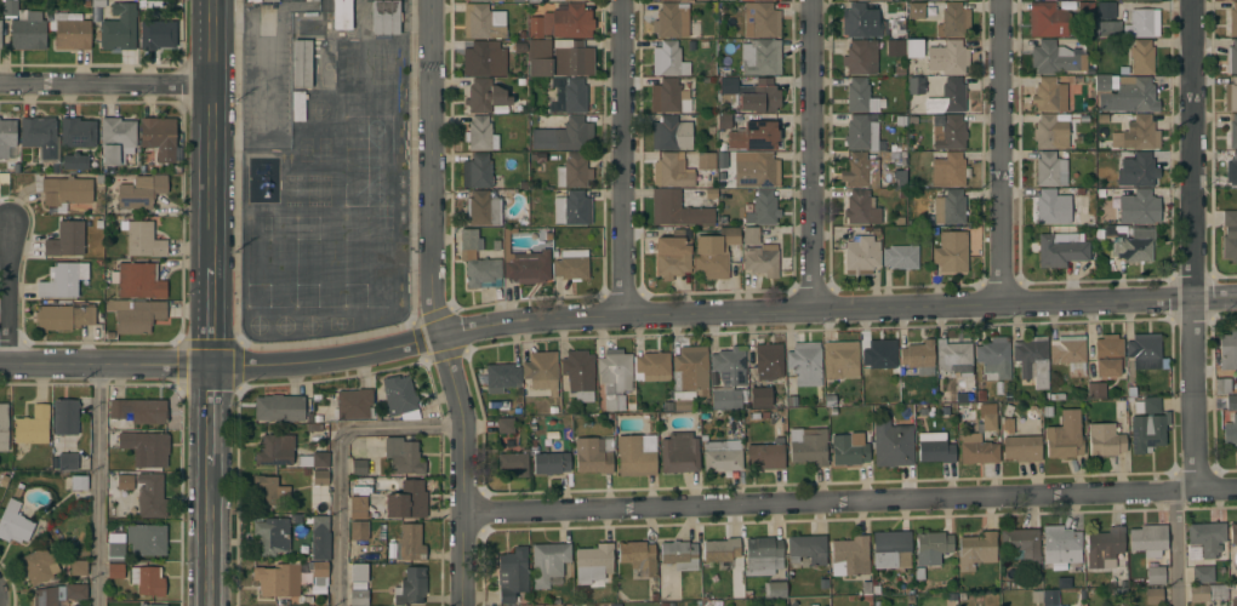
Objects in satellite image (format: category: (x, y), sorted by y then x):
building: (252, 0)
building: (269, 0)
building: (479, 0)
building: (571, 0)
building: (668, 0)
building: (746, 0)
building: (762, 0)
building: (856, 0)
building: (888, 0)
building: (911, 0)
building: (933, 0)
building: (1157, 0)
building: (534, 1)
building: (10, 7)
building: (916, 10)
building: (1105, 10)
building: (1084, 11)
building: (341, 15)
building: (386, 17)
building: (863, 19)
building: (1047, 19)
building: (1232, 19)
building: (760, 21)
building: (953, 21)
building: (483, 22)
building: (568, 22)
building: (667, 22)
building: (1141, 23)
building: (118, 28)
building: (1108, 29)
building: (899, 30)
building: (70, 32)
building: (28, 33)
building: (156, 35)
road: (269, 47)
building: (537, 48)
building: (895, 48)
building: (913, 48)
building: (1056, 56)
building: (760, 57)
building: (861, 57)
building: (1141, 57)
building: (571, 58)
building: (948, 58)
building: (1231, 58)
building: (481, 59)
building: (668, 59)
building: (301, 64)
building: (347, 64)
road: (104, 82)
building: (726, 90)
building: (914, 91)
building: (1125, 93)
building: (1049, 95)
building: (484, 96)
building: (574, 96)
building: (860, 96)
building: (951, 96)
building: (1231, 96)
building: (669, 97)
building: (760, 97)
building: (298, 105)
building: (723, 121)
building: (78, 132)
building: (1050, 132)
building: (671, 133)
building: (860, 133)
building: (951, 133)
building: (1136, 133)
building: (1231, 133)
building: (38, 135)
road: (211, 135)
building: (480, 135)
building: (565, 136)
building: (753, 136)
building: (6, 137)
building: (159, 137)
building: (116, 139)
road: (1195, 148)
road: (997, 150)
road: (815, 155)
road: (627, 158)
building: (706, 160)
building: (75, 161)
building: (1135, 168)
building: (948, 170)
building: (1049, 170)
building: (1232, 170)
building: (477, 171)
building: (671, 171)
building: (757, 171)
building: (860, 171)
building: (572, 172)
building: (65, 190)
building: (141, 191)
building: (764, 207)
building: (950, 207)
building: (1053, 207)
building: (1139, 207)
building: (483, 208)
building: (572, 208)
building: (862, 208)
building: (679, 211)
building: (1115, 231)
building: (751, 235)
building: (1230, 235)
building: (65, 240)
building: (142, 240)
building: (1135, 246)
building: (1061, 250)
building: (713, 252)
building: (951, 252)
building: (673, 255)
building: (861, 256)
building: (900, 257)
building: (760, 261)
building: (478, 262)
building: (526, 264)
building: (571, 265)
building: (62, 280)
building: (138, 280)
road: (8, 290)
road: (1215, 296)
road: (439, 304)
road: (594, 315)
building: (64, 316)
building: (137, 316)
road: (211, 316)
building: (1144, 349)
building: (1229, 350)
building: (1068, 354)
building: (880, 356)
building: (1107, 356)
building: (918, 358)
building: (953, 358)
building: (993, 359)
building: (1031, 359)
building: (769, 360)
building: (840, 360)
building: (652, 364)
building: (804, 364)
building: (726, 367)
building: (690, 368)
building: (540, 371)
building: (578, 373)
building: (614, 376)
building: (501, 377)
building: (1221, 384)
building: (1095, 390)
road: (1196, 394)
building: (397, 395)
building: (726, 399)
building: (764, 399)
building: (792, 401)
building: (1231, 402)
building: (353, 404)
building: (682, 405)
building: (1146, 405)
building: (279, 408)
building: (138, 411)
road: (210, 415)
building: (64, 417)
building: (988, 422)
building: (1007, 424)
building: (505, 425)
building: (32, 427)
building: (4, 428)
building: (1230, 430)
building: (1146, 433)
building: (1065, 436)
building: (124, 440)
building: (1104, 440)
building: (893, 442)
building: (806, 446)
building: (933, 447)
building: (1021, 448)
building: (150, 450)
building: (275, 450)
building: (848, 450)
building: (976, 451)
building: (679, 453)
building: (765, 454)
building: (403, 456)
building: (592, 456)
road: (338, 457)
building: (633, 457)
building: (720, 458)
building: (314, 459)
building: (67, 461)
building: (514, 463)
building: (551, 463)
building: (359, 468)
building: (319, 476)
building: (124, 481)
building: (79, 482)
road: (97, 484)
building: (269, 490)
building: (150, 496)
building: (406, 501)
road: (853, 502)
building: (357, 519)
building: (13, 522)
building: (1232, 533)
road: (209, 536)
building: (270, 537)
building: (319, 538)
building: (1147, 538)
building: (1205, 538)
building: (147, 539)
building: (410, 542)
building: (1021, 544)
building: (1061, 545)
building: (1102, 545)
building: (115, 547)
building: (931, 548)
building: (806, 549)
building: (890, 549)
road: (1174, 549)
building: (720, 550)
building: (976, 550)
building: (679, 555)
building: (762, 556)
building: (849, 556)
building: (638, 558)
building: (547, 562)
building: (593, 562)
building: (38, 566)
building: (78, 567)
building: (114, 571)
building: (358, 572)
building: (512, 574)
building: (1202, 574)
building: (318, 576)
building: (1155, 576)
building: (148, 581)
building: (277, 581)
building: (410, 587)
building: (776, 589)
building: (75, 591)
building: (1207, 591)
building: (45, 596)
building: (1153, 596)
building: (359, 598)
building: (1049, 598)
building: (1233, 601)
building: (150, 605)

